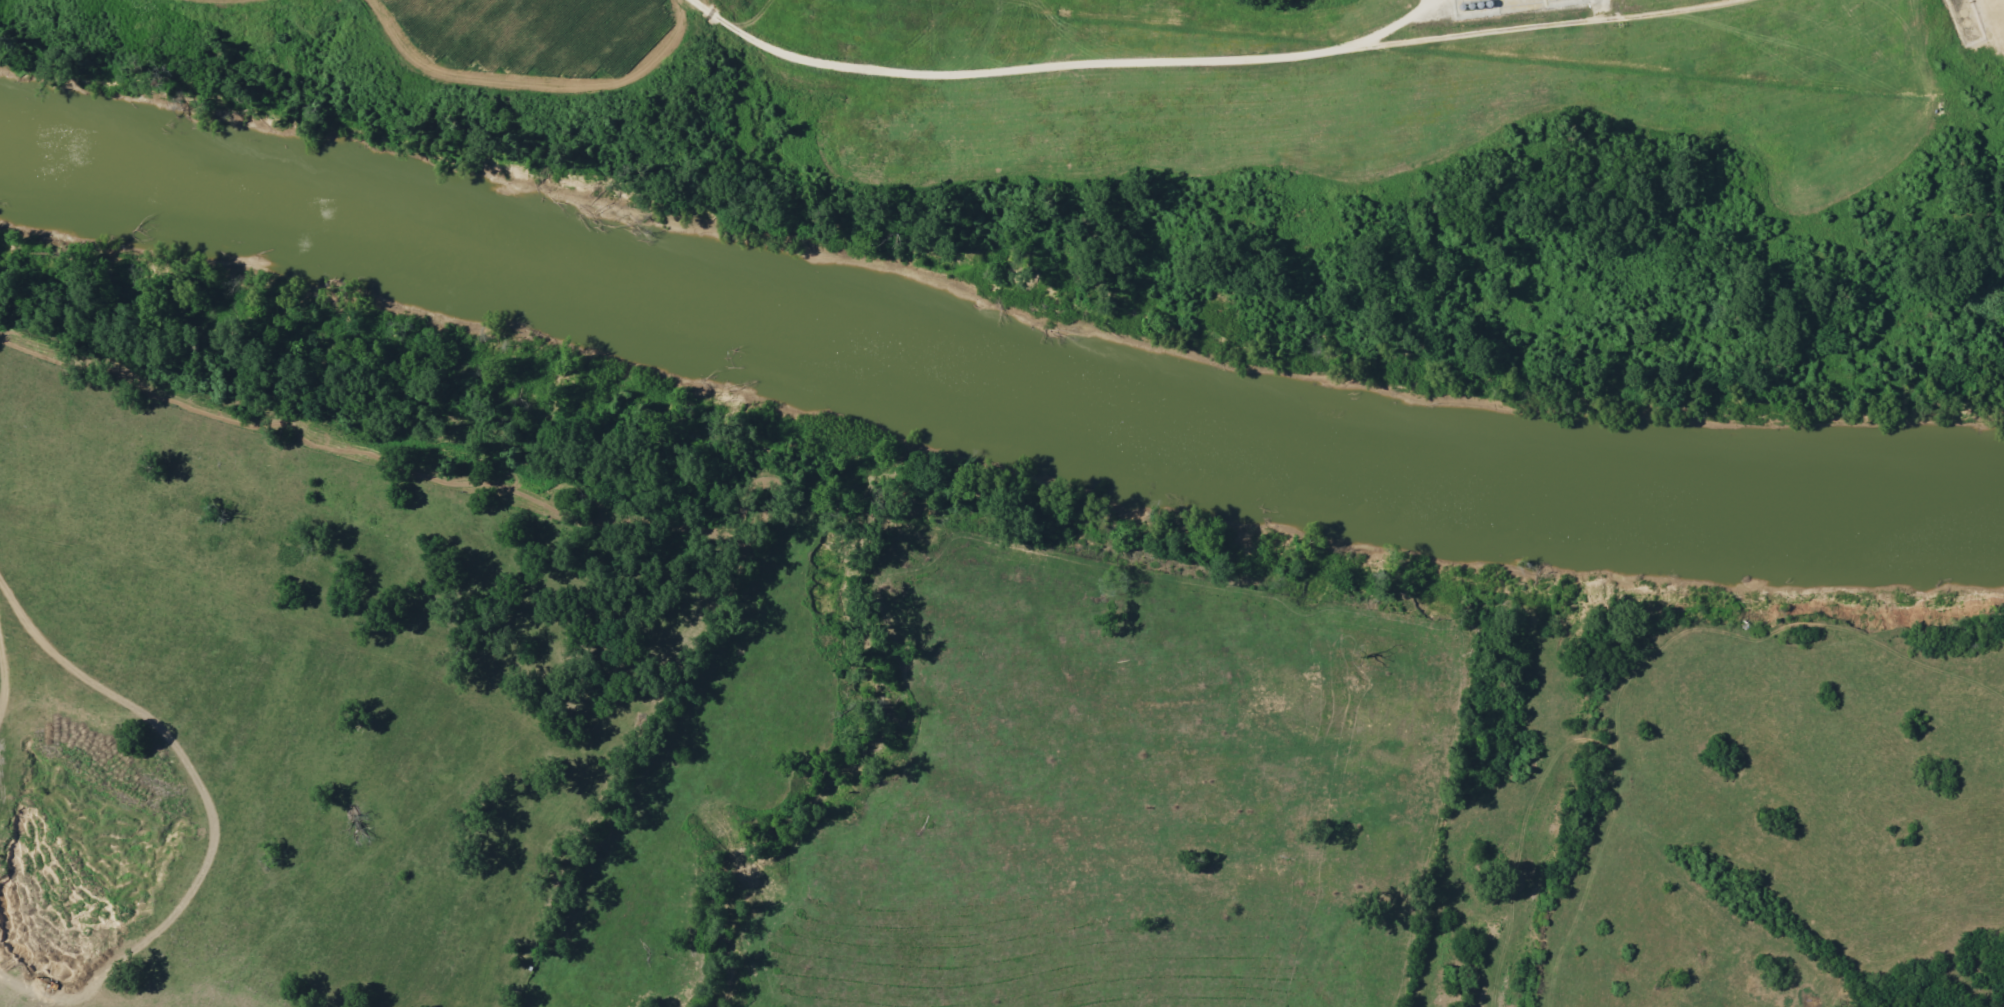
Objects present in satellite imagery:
building: (1961, 12)
silo: (1961, 12)
building: (1964, 21)
silo: (1964, 21)
road: (1984, 25)
building: (1968, 29)
silo: (1968, 29)
road: (1198, 60)
river: (438, 222)
river: (1215, 434)
river: (1790, 509)

